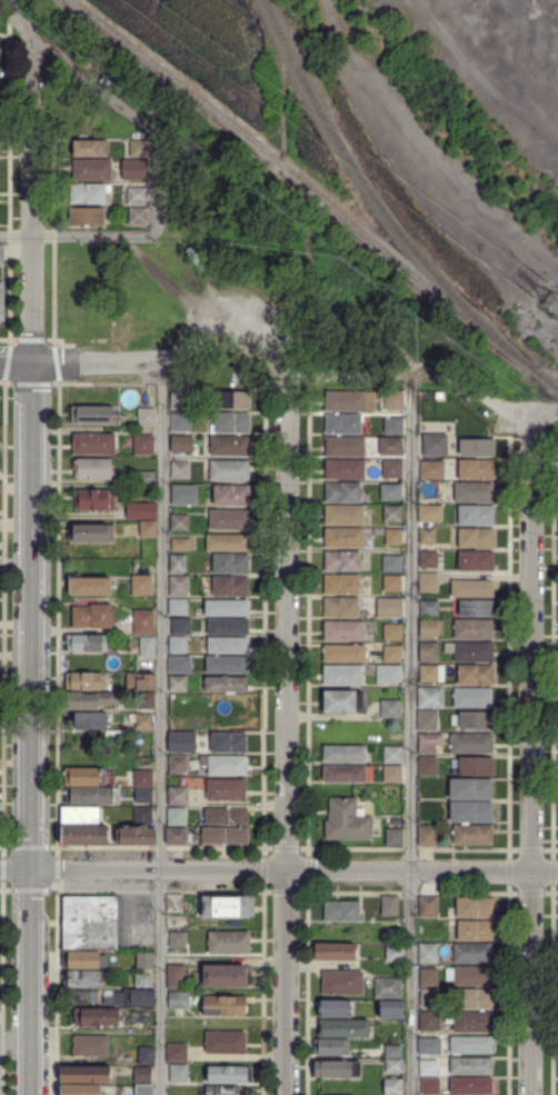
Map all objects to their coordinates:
road: (24, 17)
road: (96, 83)
building: (90, 148)
building: (140, 148)
building: (139, 168)
building: (91, 169)
railway: (306, 181)
road: (159, 183)
building: (89, 192)
building: (137, 195)
road: (33, 199)
railway: (378, 200)
building: (138, 215)
building: (87, 216)
road: (80, 233)
building: (1, 253)
building: (1, 300)
power tower: (552, 300)
road: (17, 362)
road: (159, 362)
railway: (546, 377)
road: (348, 381)
road: (472, 386)
building: (178, 399)
building: (233, 399)
building: (345, 400)
building: (393, 400)
road: (545, 410)
building: (92, 415)
building: (146, 415)
building: (180, 422)
building: (231, 422)
building: (343, 424)
building: (393, 425)
building: (93, 442)
building: (179, 444)
building: (143, 445)
building: (230, 445)
building: (345, 446)
building: (392, 446)
building: (429, 447)
building: (477, 447)
building: (391, 468)
building: (428, 468)
building: (92, 469)
building: (345, 469)
building: (180, 470)
building: (476, 470)
building: (230, 471)
building: (147, 479)
building: (390, 490)
building: (342, 492)
building: (474, 492)
building: (183, 494)
building: (230, 495)
building: (94, 501)
building: (140, 510)
building: (391, 514)
building: (430, 514)
building: (343, 515)
building: (476, 516)
building: (229, 520)
building: (180, 524)
building: (148, 529)
building: (370, 532)
building: (90, 534)
building: (429, 536)
building: (395, 537)
building: (342, 538)
building: (476, 539)
building: (227, 542)
building: (181, 544)
building: (428, 559)
building: (475, 560)
building: (341, 561)
building: (177, 564)
building: (230, 565)
building: (391, 565)
building: (428, 583)
building: (392, 584)
building: (341, 585)
building: (141, 586)
building: (89, 587)
building: (180, 587)
building: (230, 587)
building: (471, 588)
building: (340, 607)
building: (392, 607)
building: (177, 608)
building: (227, 608)
building: (429, 608)
building: (476, 608)
building: (91, 616)
building: (142, 623)
building: (180, 626)
building: (228, 627)
building: (430, 628)
building: (472, 629)
building: (342, 630)
building: (391, 633)
road: (531, 641)
building: (84, 644)
building: (177, 645)
building: (228, 646)
building: (147, 648)
building: (428, 653)
building: (470, 653)
building: (343, 654)
building: (391, 654)
building: (177, 664)
building: (227, 664)
building: (388, 674)
building: (431, 674)
building: (342, 675)
building: (474, 675)
building: (84, 681)
building: (140, 681)
building: (178, 684)
building: (226, 684)
building: (430, 697)
building: (472, 697)
building: (89, 700)
building: (146, 700)
building: (342, 701)
building: (390, 709)
building: (90, 720)
building: (426, 720)
building: (472, 720)
building: (143, 723)
road: (30, 728)
road: (160, 728)
road: (286, 729)
road: (410, 735)
building: (228, 741)
building: (181, 743)
building: (429, 743)
building: (470, 744)
building: (343, 755)
building: (391, 755)
building: (178, 765)
building: (223, 765)
building: (428, 766)
building: (474, 767)
building: (391, 774)
building: (343, 775)
building: (83, 776)
building: (142, 779)
building: (225, 789)
building: (470, 789)
building: (89, 796)
building: (143, 796)
building: (178, 796)
building: (470, 812)
building: (226, 816)
building: (80, 817)
building: (142, 817)
building: (177, 818)
building: (347, 822)
building: (83, 835)
building: (472, 835)
building: (134, 836)
building: (428, 836)
building: (177, 837)
building: (225, 837)
building: (395, 837)
road: (279, 869)
building: (175, 903)
building: (389, 905)
building: (227, 906)
building: (428, 907)
building: (474, 908)
building: (340, 912)
building: (451, 922)
building: (89, 923)
building: (420, 928)
building: (475, 932)
building: (178, 940)
building: (229, 944)
building: (333, 952)
building: (396, 953)
building: (430, 953)
building: (472, 954)
building: (83, 960)
building: (145, 960)
building: (177, 976)
building: (227, 976)
building: (469, 976)
building: (428, 977)
building: (83, 978)
building: (142, 980)
building: (341, 983)
road: (531, 983)
building: (387, 988)
building: (82, 996)
building: (429, 997)
building: (133, 998)
building: (474, 999)
building: (178, 1001)
building: (223, 1006)
building: (332, 1008)
building: (390, 1009)
building: (96, 1017)
building: (429, 1021)
building: (469, 1022)
building: (343, 1028)
building: (226, 1043)
building: (89, 1045)
building: (429, 1045)
building: (470, 1045)
building: (331, 1046)
building: (389, 1052)
building: (177, 1053)
building: (146, 1056)
building: (428, 1065)
building: (392, 1066)
building: (470, 1066)
building: (336, 1069)
building: (178, 1073)
building: (83, 1075)
building: (142, 1075)
building: (229, 1075)
building: (430, 1086)
building: (470, 1086)
building: (391, 1087)
building: (143, 1089)
building: (79, 1091)
building: (218, 1091)

